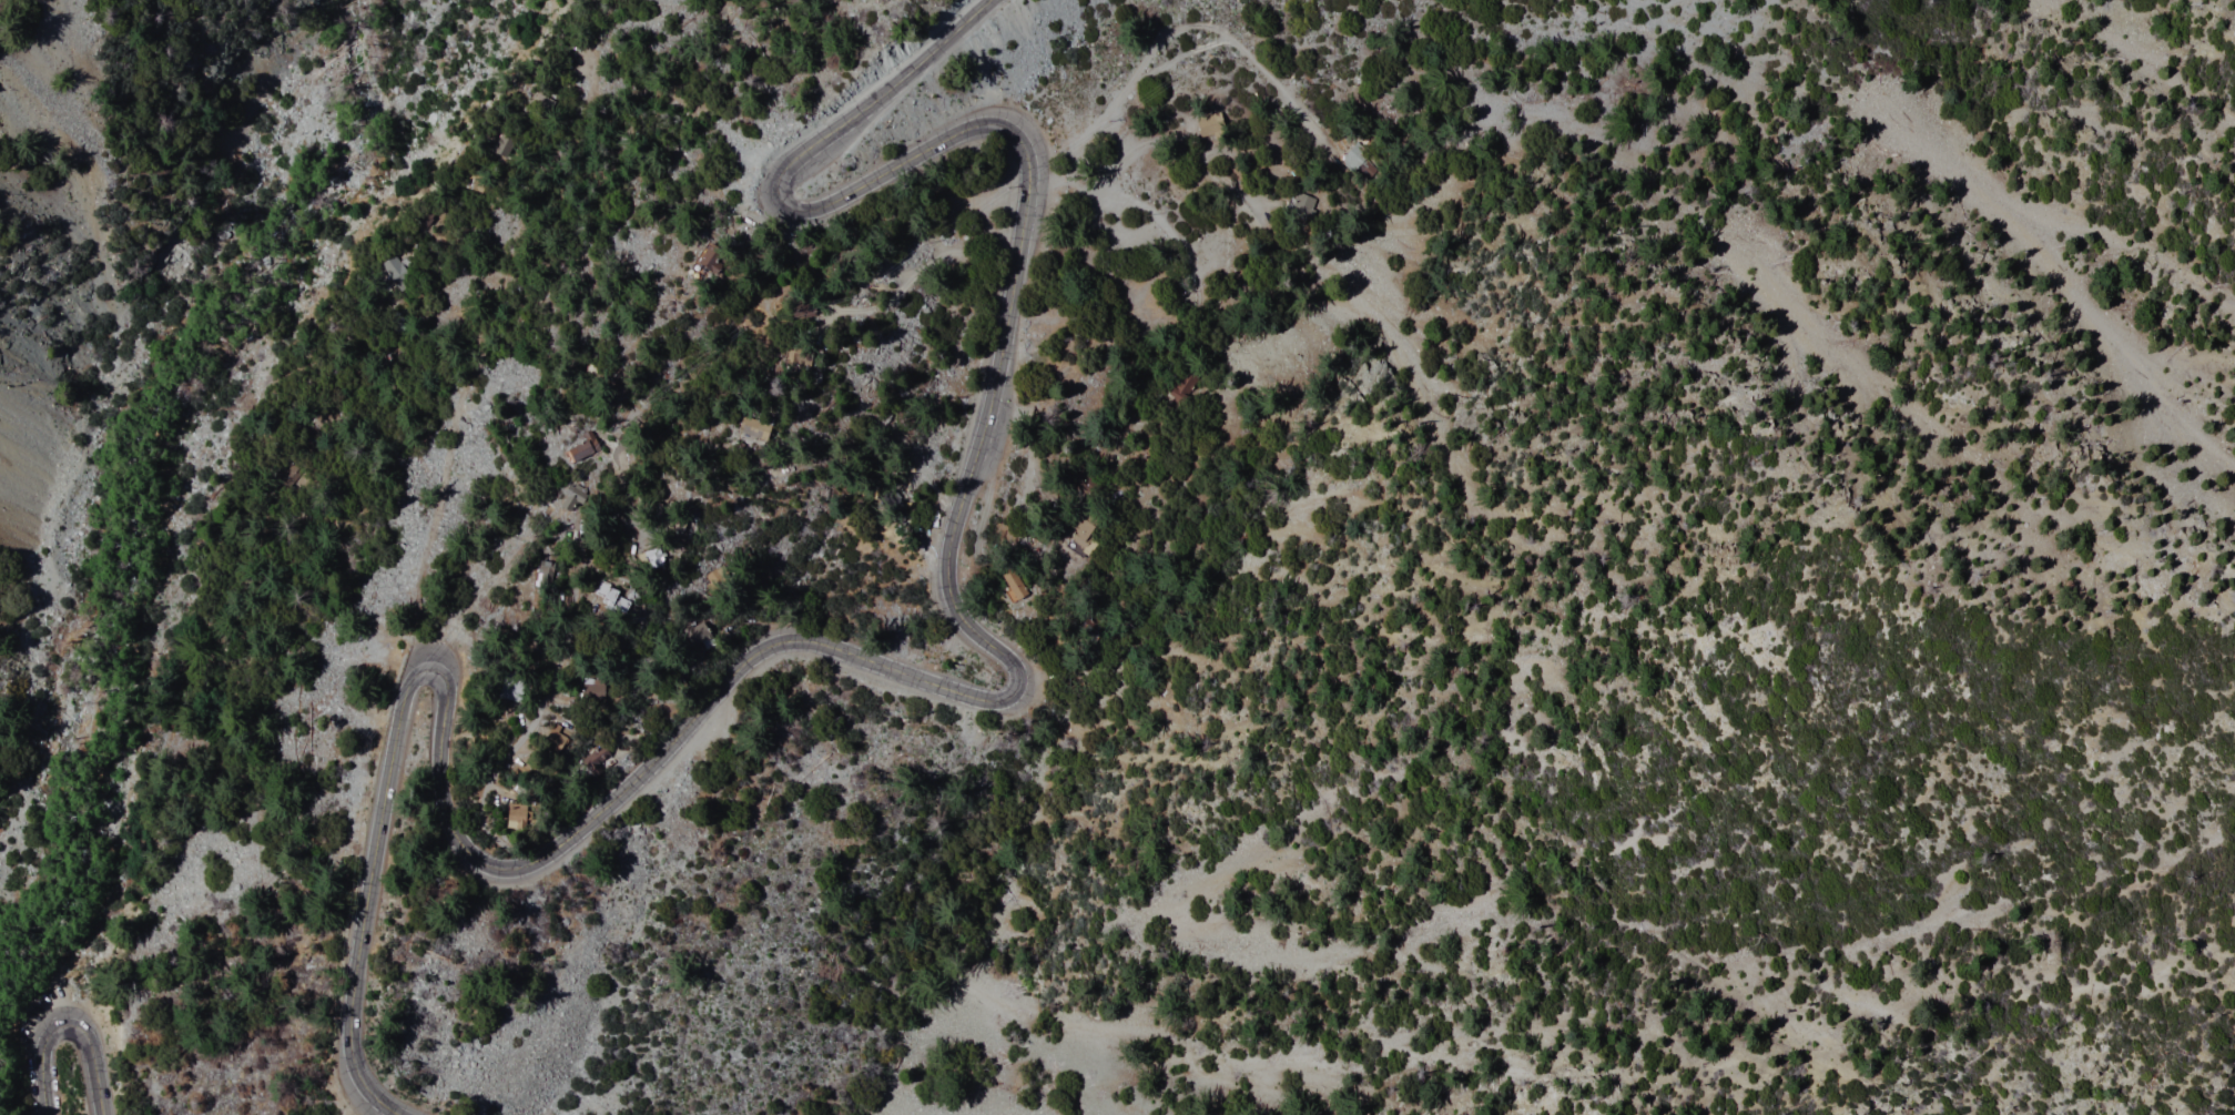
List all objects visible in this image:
road: (769, 236)
building: (711, 264)
building: (404, 271)
road: (467, 357)
building: (751, 428)
building: (580, 449)
road: (971, 479)
building: (673, 523)
building: (1081, 534)
building: (651, 557)
building: (1008, 585)
building: (610, 598)
road: (556, 639)
building: (590, 691)
road: (170, 700)
building: (553, 740)
building: (591, 762)
road: (384, 805)
building: (511, 818)
road: (67, 1027)

